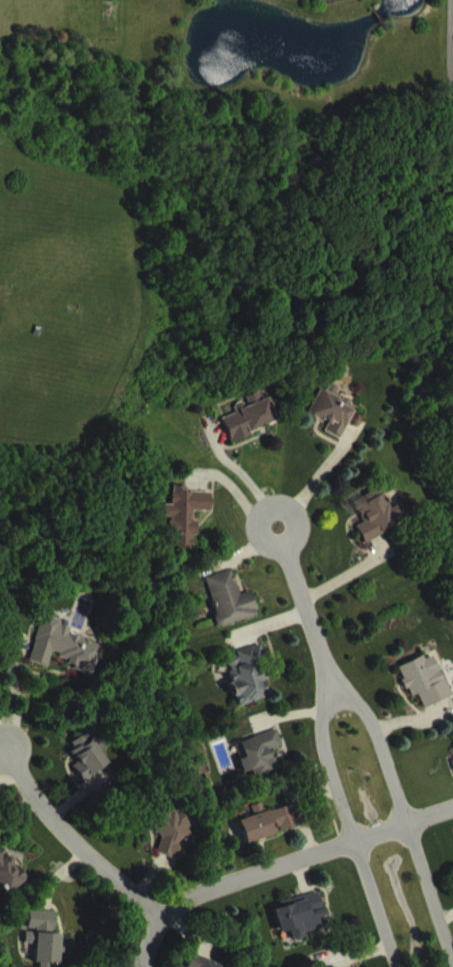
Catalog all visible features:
road: (452, 30)
building: (338, 424)
building: (255, 431)
road: (269, 507)
building: (383, 528)
building: (190, 530)
building: (235, 614)
building: (70, 661)
building: (252, 689)
building: (429, 694)
road: (12, 698)
road: (7, 745)
road: (386, 751)
building: (265, 767)
building: (94, 769)
road: (346, 825)
building: (273, 836)
road: (86, 845)
building: (177, 845)
road: (307, 856)
building: (11, 885)
building: (306, 930)
building: (47, 934)
road: (146, 942)
building: (48, 956)
building: (199, 966)

